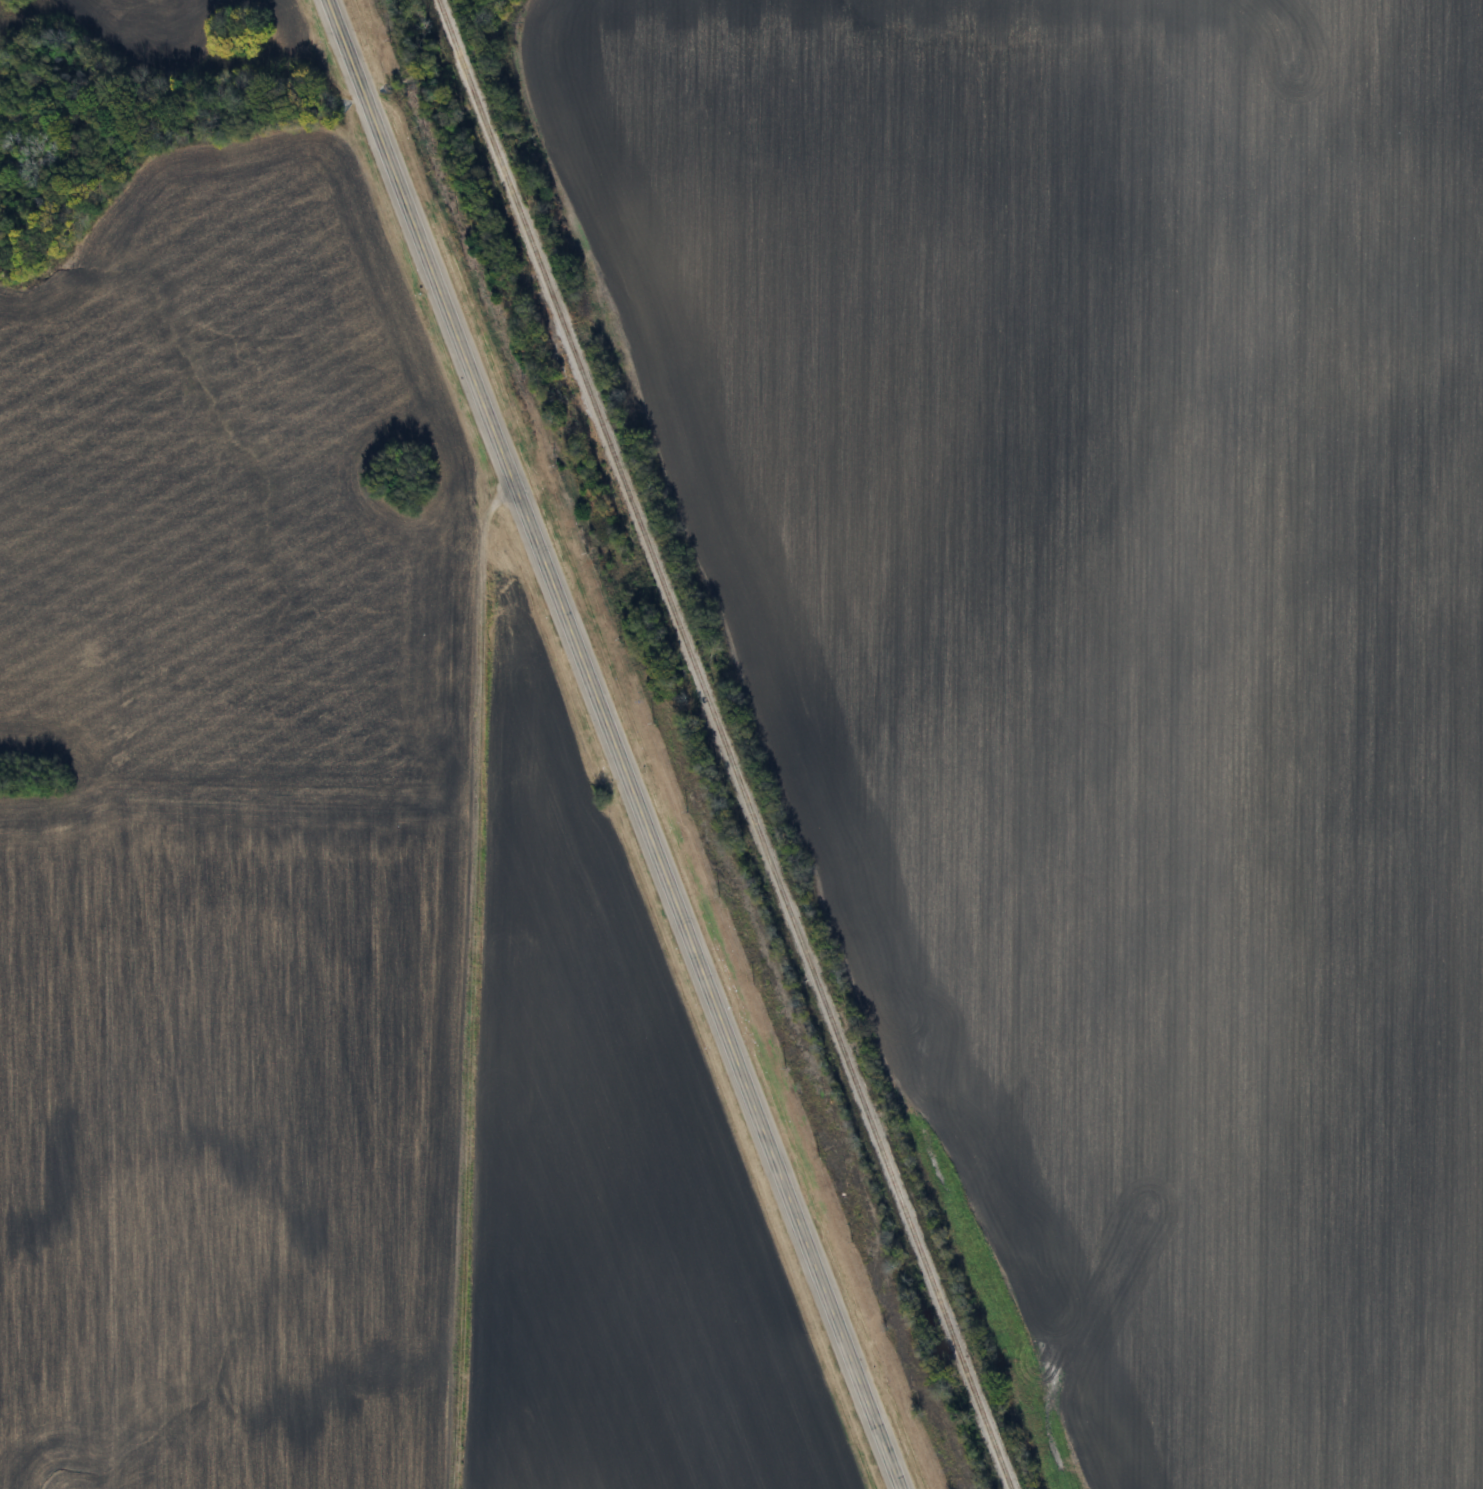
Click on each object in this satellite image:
road: (613, 744)
railway: (724, 744)

